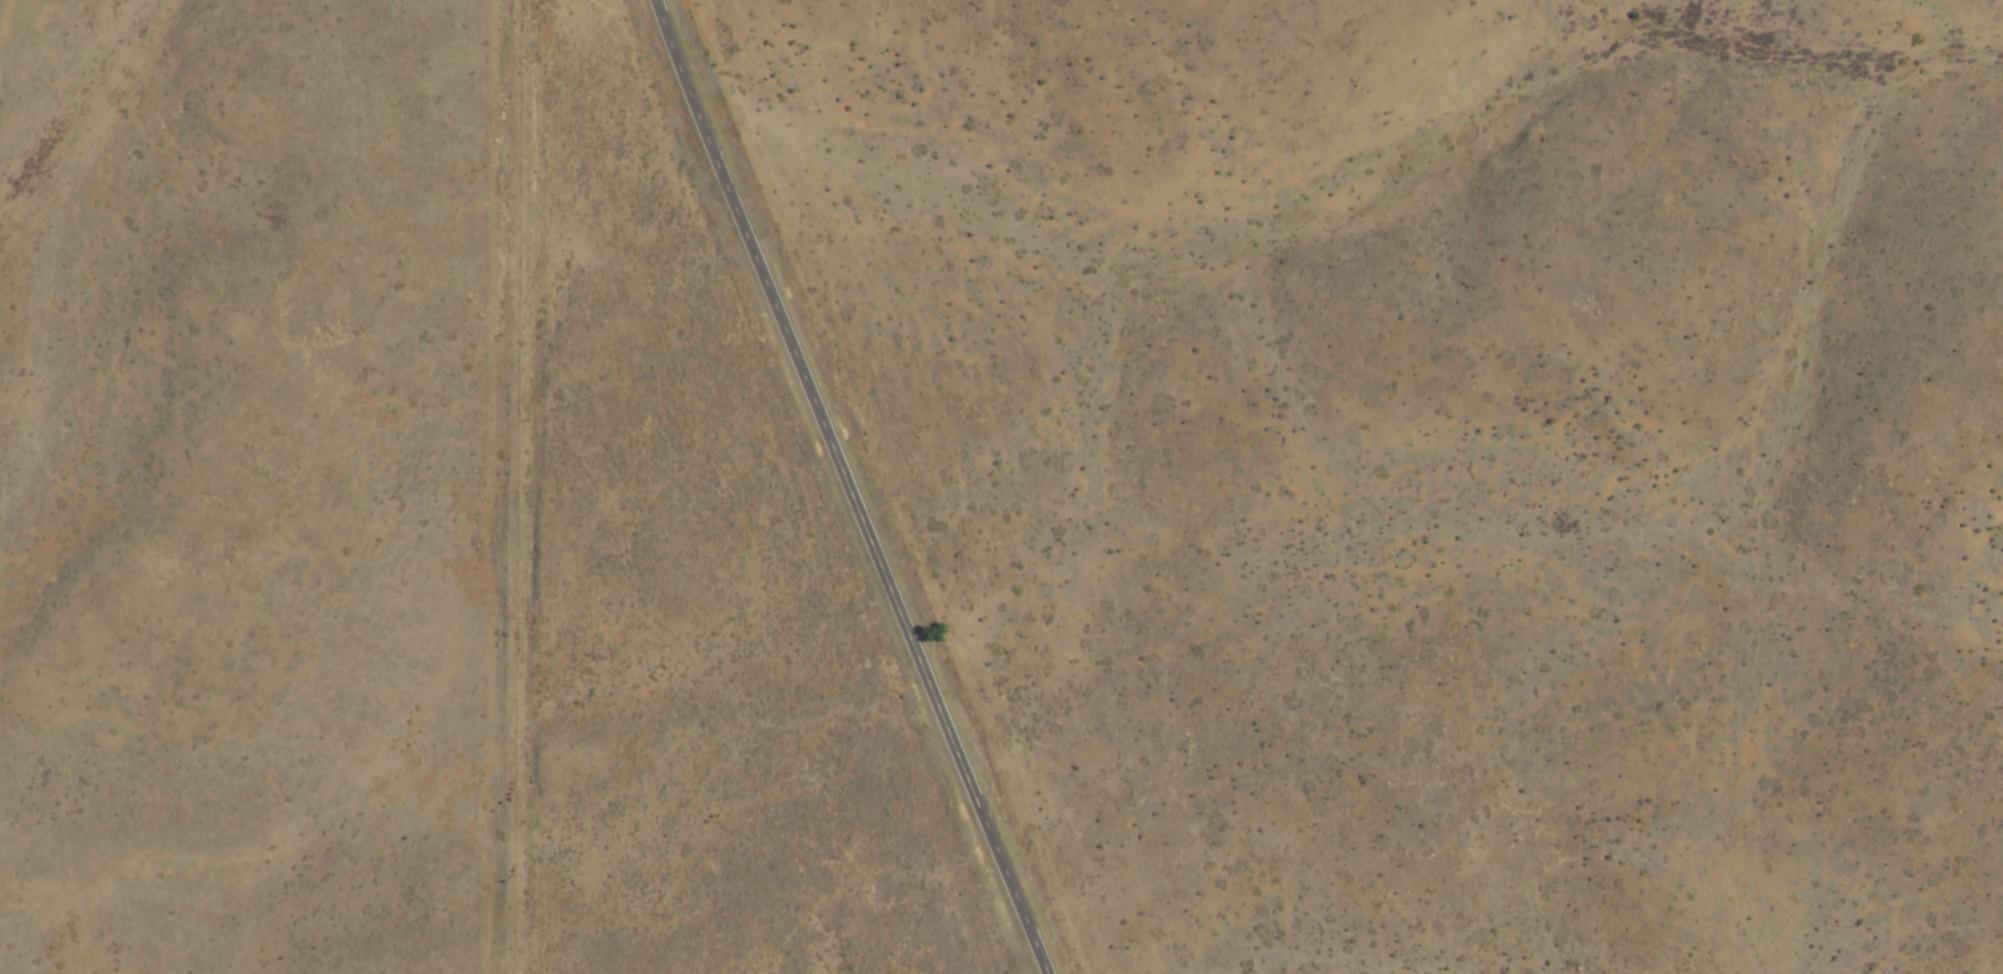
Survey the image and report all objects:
road: (453, 487)
road: (846, 488)

